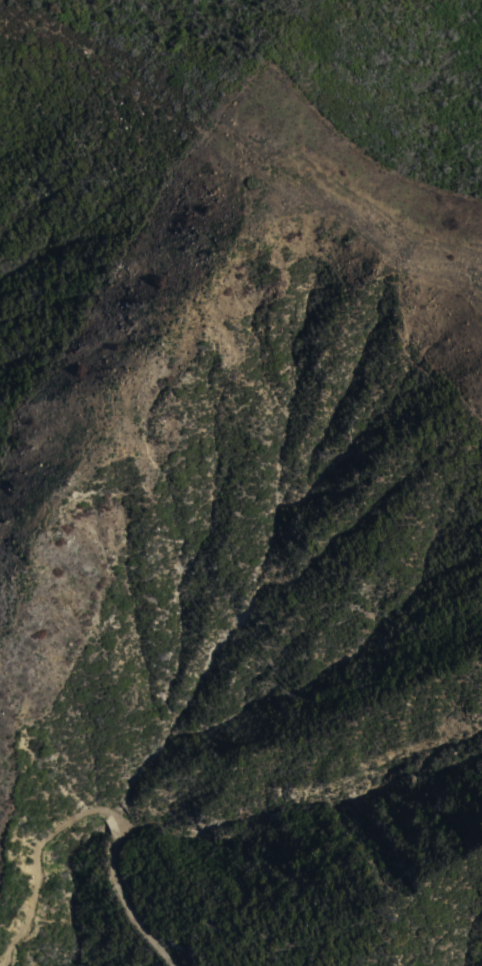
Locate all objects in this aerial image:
road: (96, 806)

